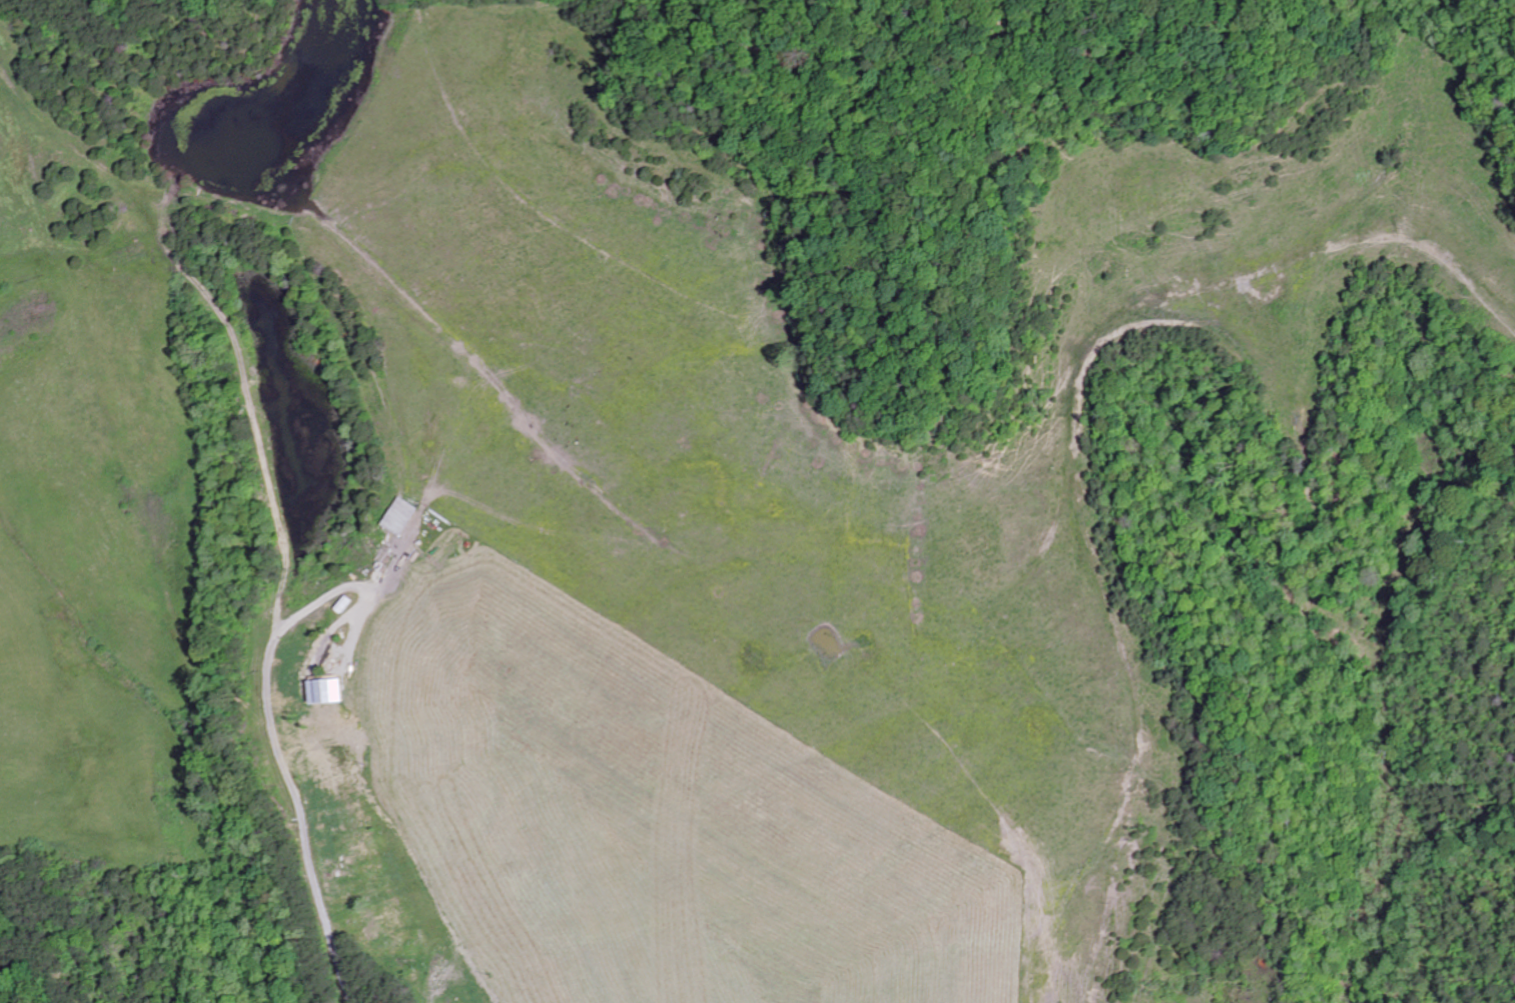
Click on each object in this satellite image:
building: (324, 693)
road: (287, 803)

